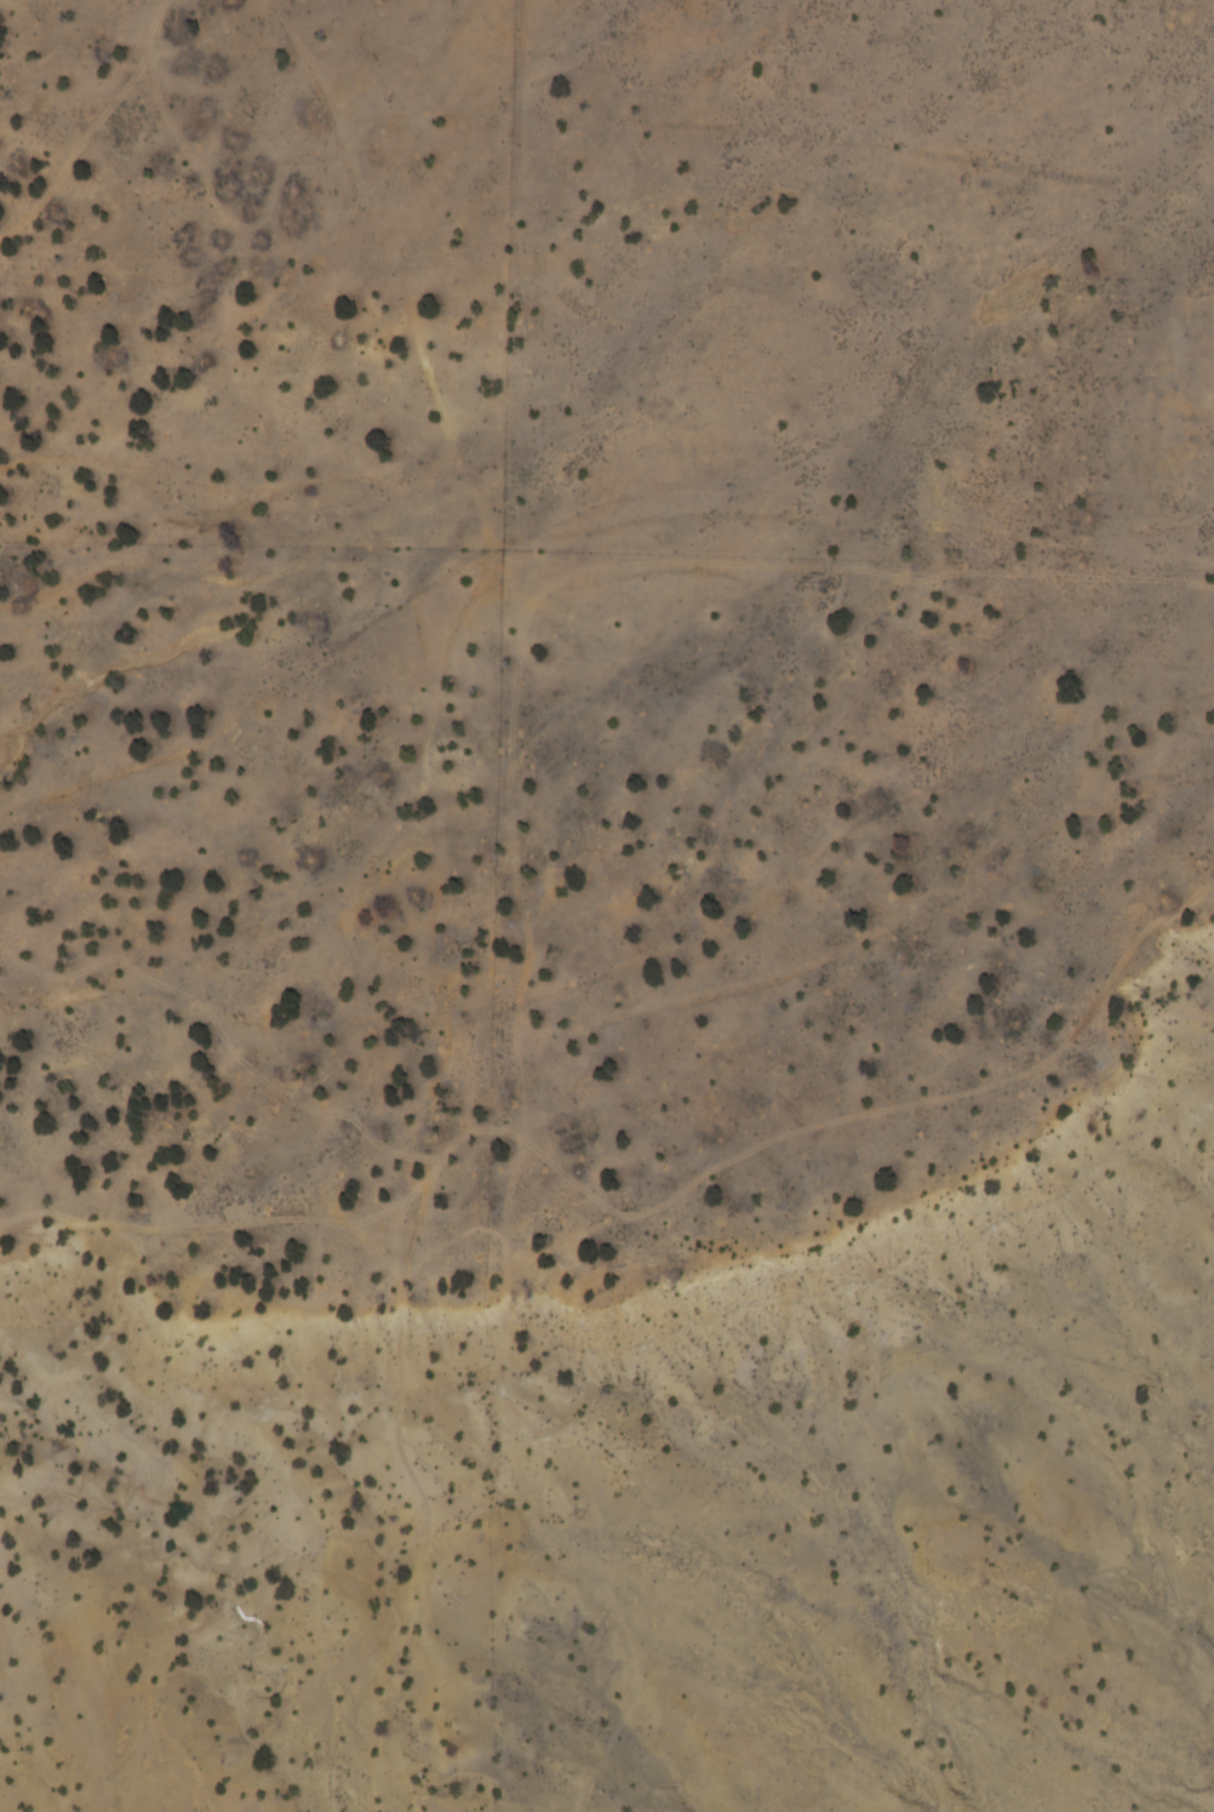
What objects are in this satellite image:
road: (395, 297)

